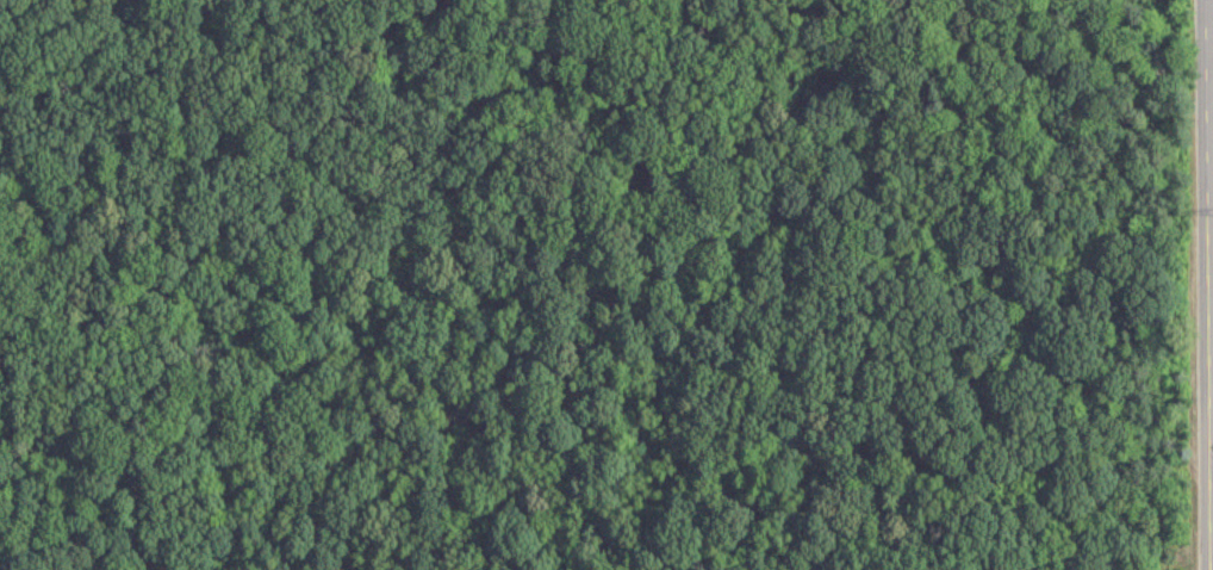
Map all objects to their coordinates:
road: (1209, 48)
road: (1207, 285)
road: (1211, 367)

